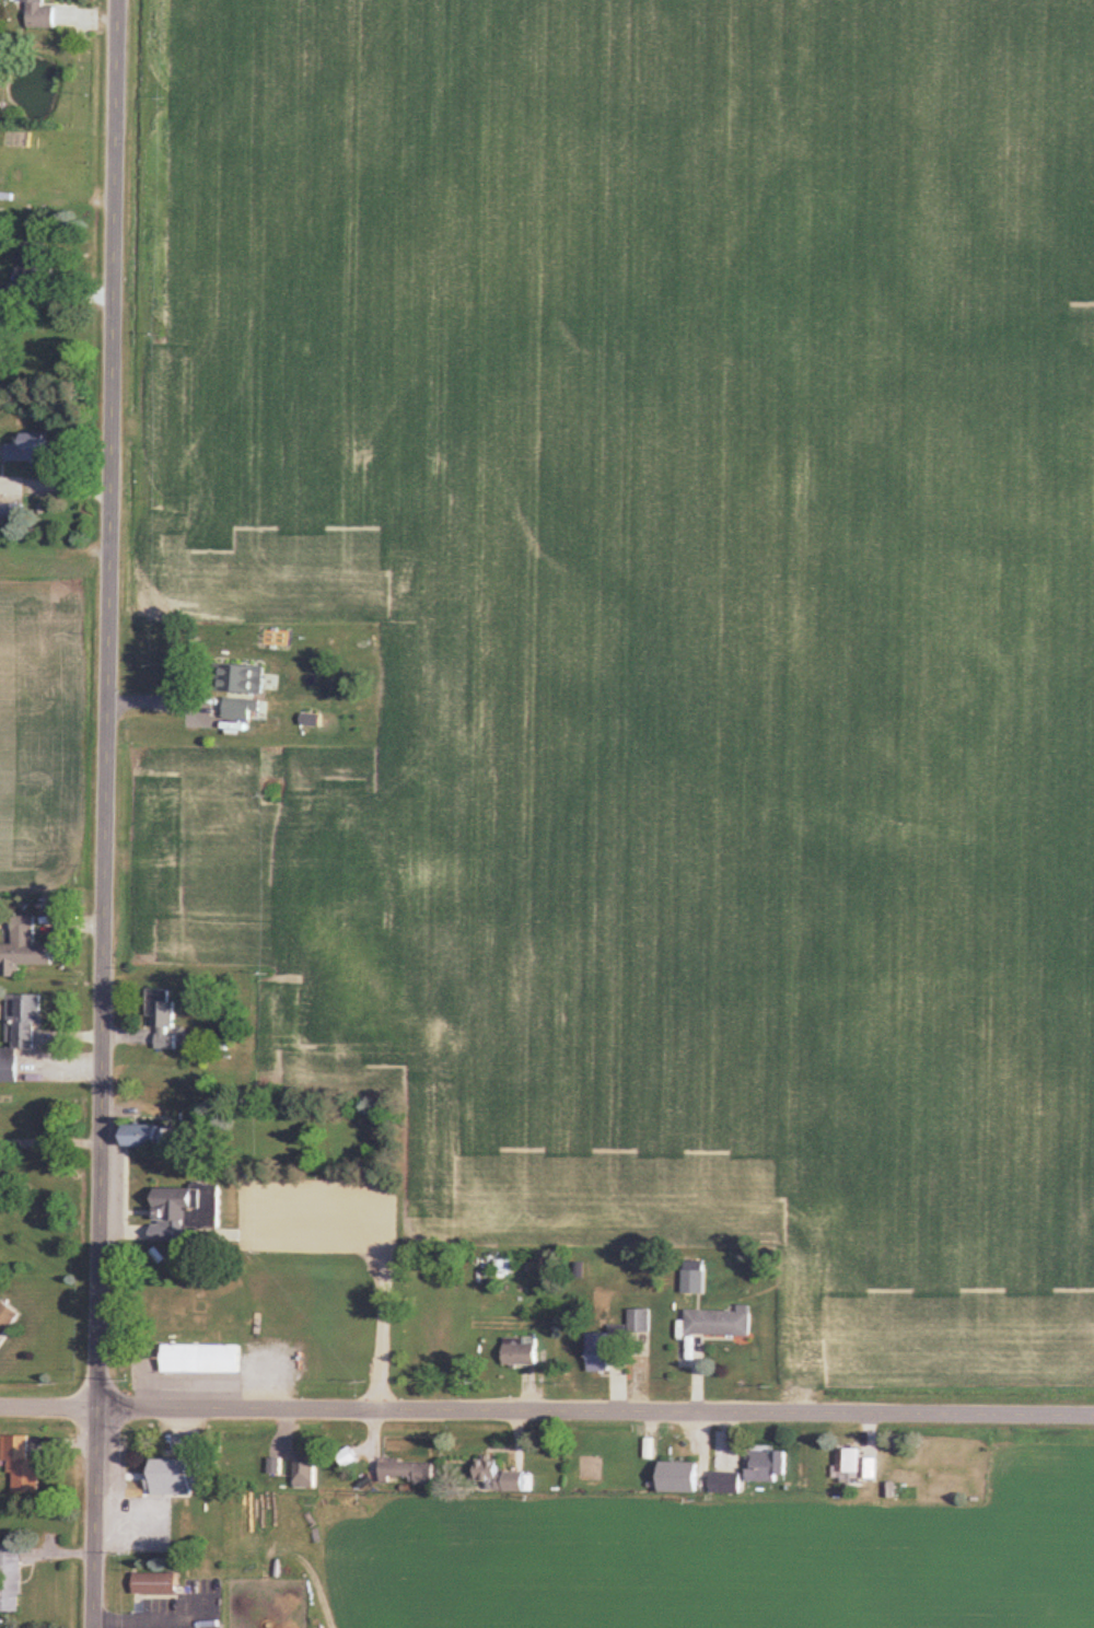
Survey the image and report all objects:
building: (39, 15)
building: (31, 267)
building: (30, 451)
building: (10, 514)
building: (244, 679)
building: (243, 709)
road: (110, 814)
building: (25, 950)
building: (163, 1019)
building: (19, 1034)
building: (143, 1137)
road: (51, 1142)
building: (188, 1214)
building: (7, 1319)
building: (641, 1323)
building: (720, 1324)
building: (607, 1351)
building: (522, 1353)
building: (202, 1360)
road: (49, 1407)
road: (596, 1411)
building: (849, 1465)
building: (23, 1467)
building: (768, 1467)
building: (306, 1472)
building: (410, 1473)
building: (176, 1475)
building: (500, 1478)
building: (680, 1478)
building: (726, 1484)
building: (11, 1580)
building: (156, 1585)

